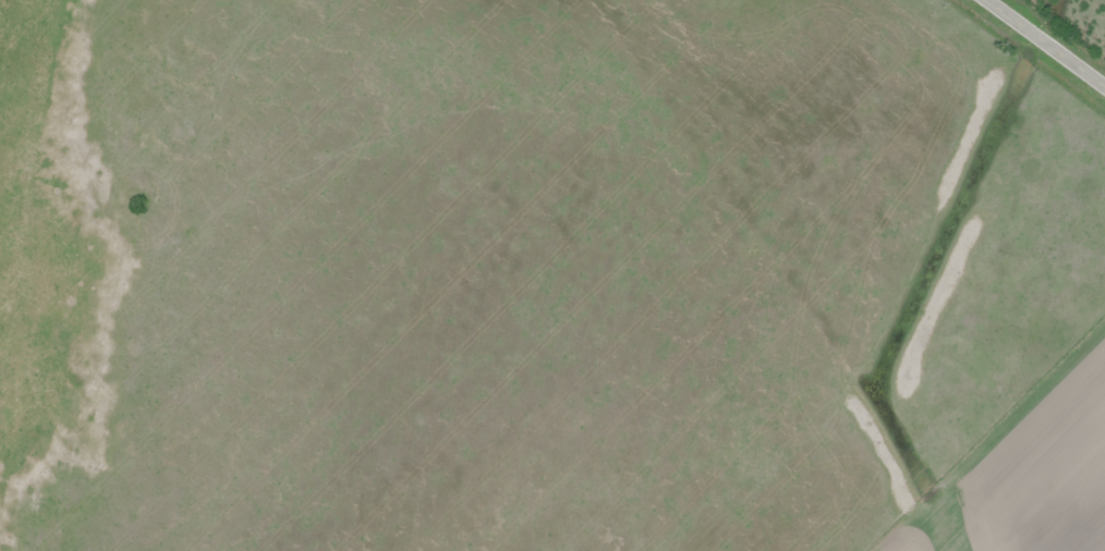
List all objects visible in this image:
road: (1045, 44)

